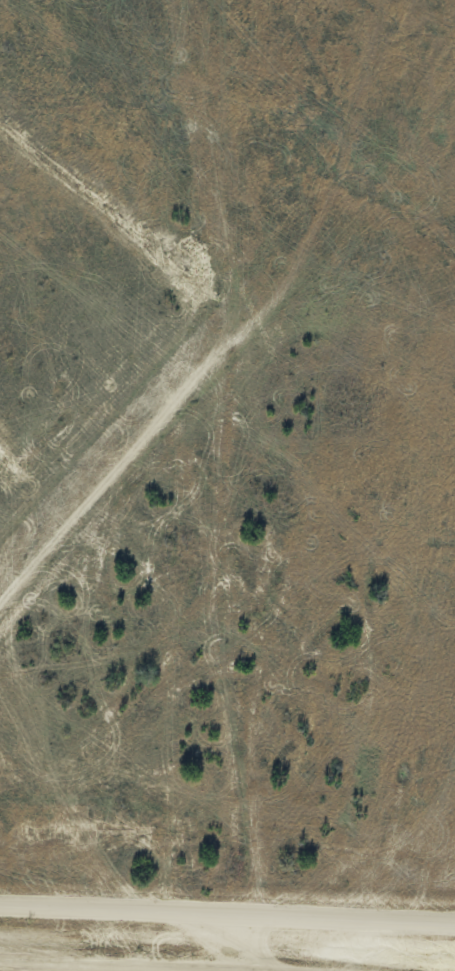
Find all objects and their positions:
airport runway: (122, 449)
road: (227, 917)
road: (143, 962)

